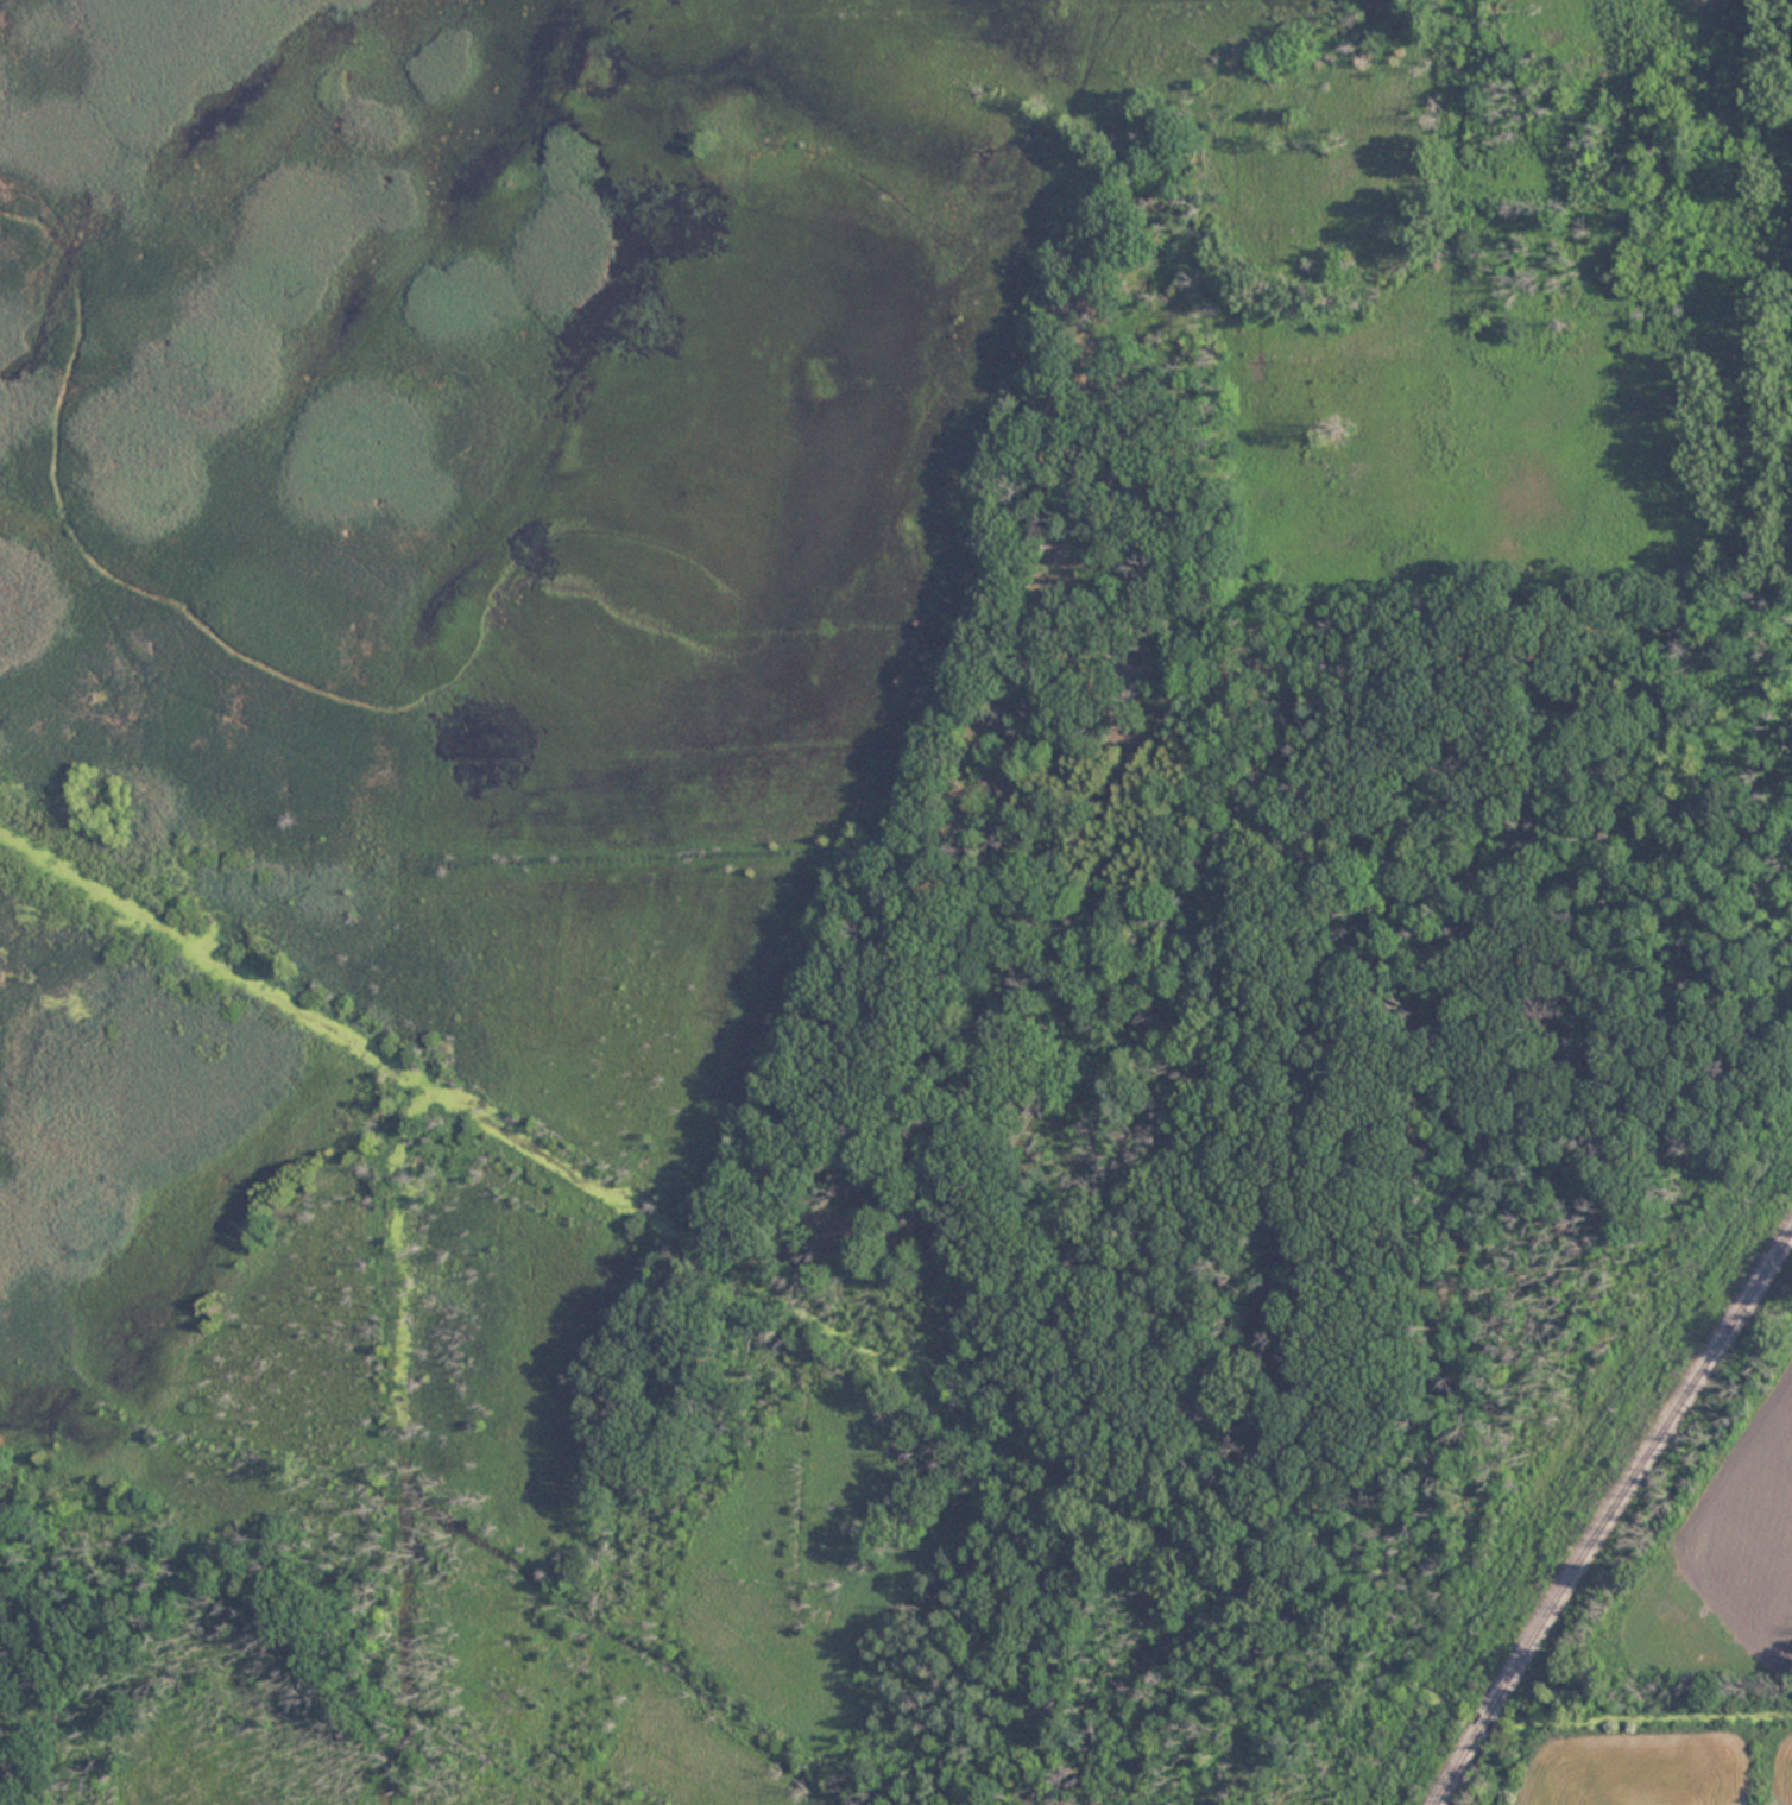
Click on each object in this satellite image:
road: (1697, 40)
railway: (1639, 1475)
railway: (1482, 1719)
railway: (1456, 1765)

